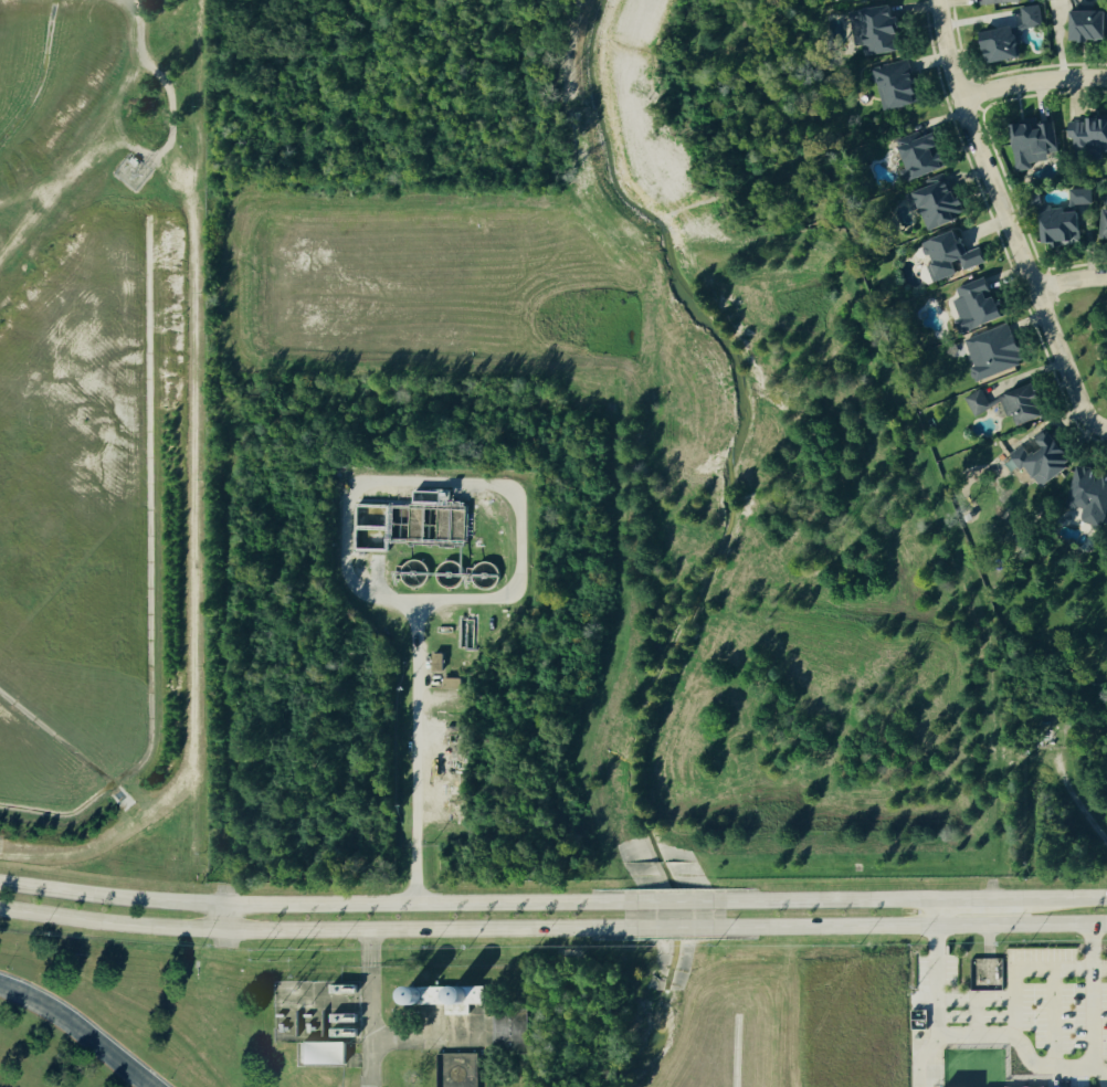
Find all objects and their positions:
building: (1050, 0)
building: (999, 1)
building: (1033, 17)
building: (1090, 25)
building: (884, 30)
building: (1005, 44)
road: (1032, 81)
building: (898, 85)
building: (1090, 135)
building: (1037, 143)
road: (976, 146)
building: (925, 156)
building: (1082, 197)
building: (941, 202)
building: (1065, 226)
building: (1106, 228)
building: (952, 256)
road: (1069, 283)
building: (980, 306)
building: (997, 351)
road: (1063, 363)
building: (1013, 403)
building: (1047, 458)
building: (1090, 496)
road: (341, 535)
building: (439, 663)
building: (454, 684)
road: (1065, 901)
road: (671, 903)
road: (822, 903)
road: (979, 903)
road: (315, 906)
road: (225, 919)
road: (908, 926)
road: (672, 928)
road: (316, 931)
road: (1086, 944)
road: (985, 951)
building: (446, 999)
road: (329, 1001)
road: (33, 1002)
road: (1014, 1005)
road: (371, 1009)
building: (516, 1033)
road: (392, 1042)
road: (103, 1054)
building: (325, 1054)
road: (1046, 1062)

